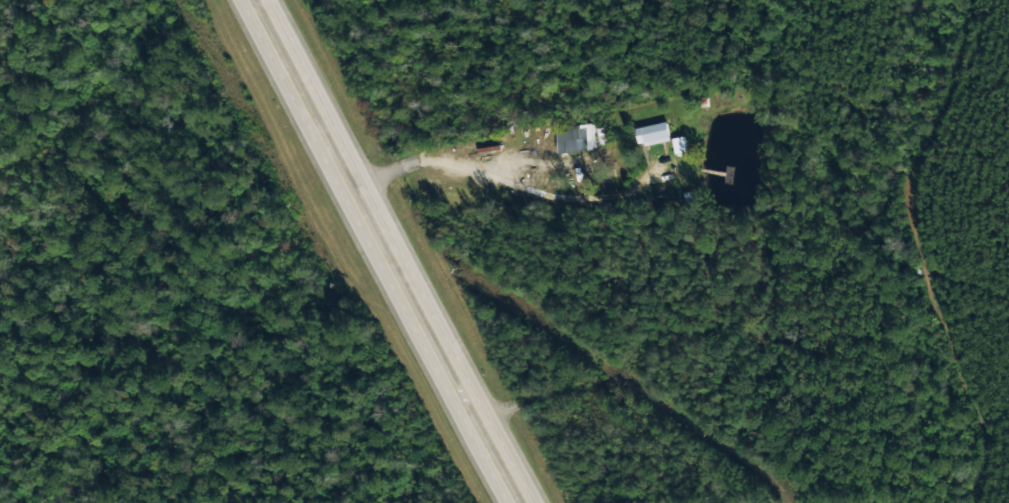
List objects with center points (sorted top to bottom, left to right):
building: (651, 132)
building: (574, 137)
road: (386, 251)

